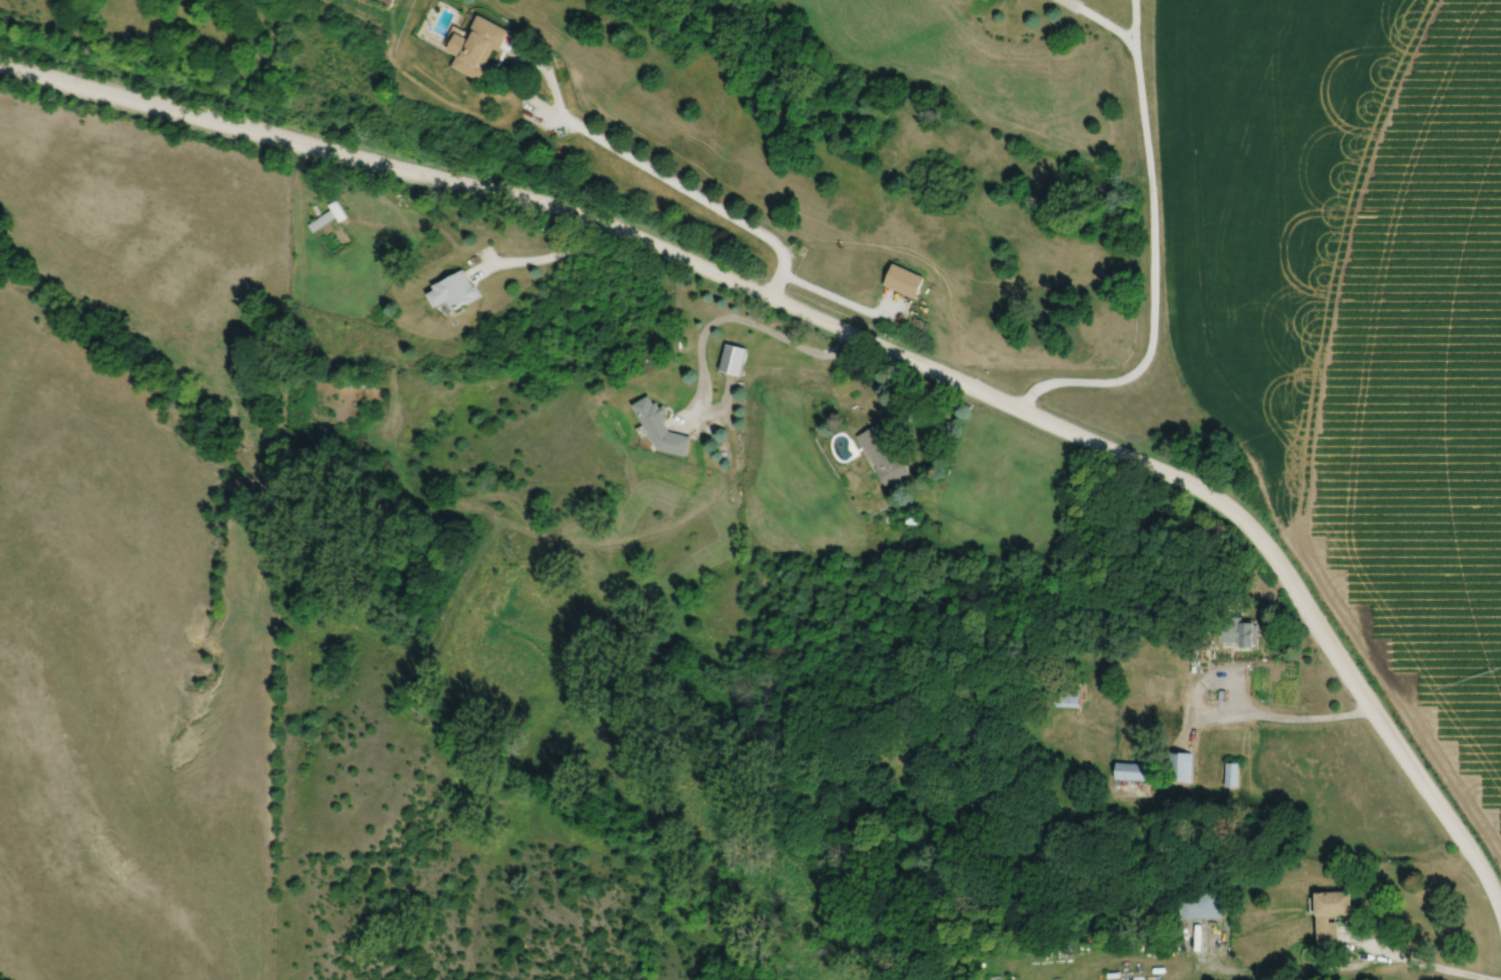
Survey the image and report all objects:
road: (1103, 20)
road: (1134, 23)
building: (481, 48)
road: (696, 193)
building: (329, 216)
road: (1153, 274)
building: (908, 280)
building: (456, 291)
road: (737, 321)
road: (855, 334)
building: (736, 358)
building: (663, 428)
building: (885, 454)
dam: (458, 595)
building: (1242, 631)
building: (1065, 696)
road: (1243, 706)
building: (1185, 766)
building: (1134, 770)
building: (1233, 774)
building: (1203, 905)
building: (1334, 914)
road: (1423, 959)

